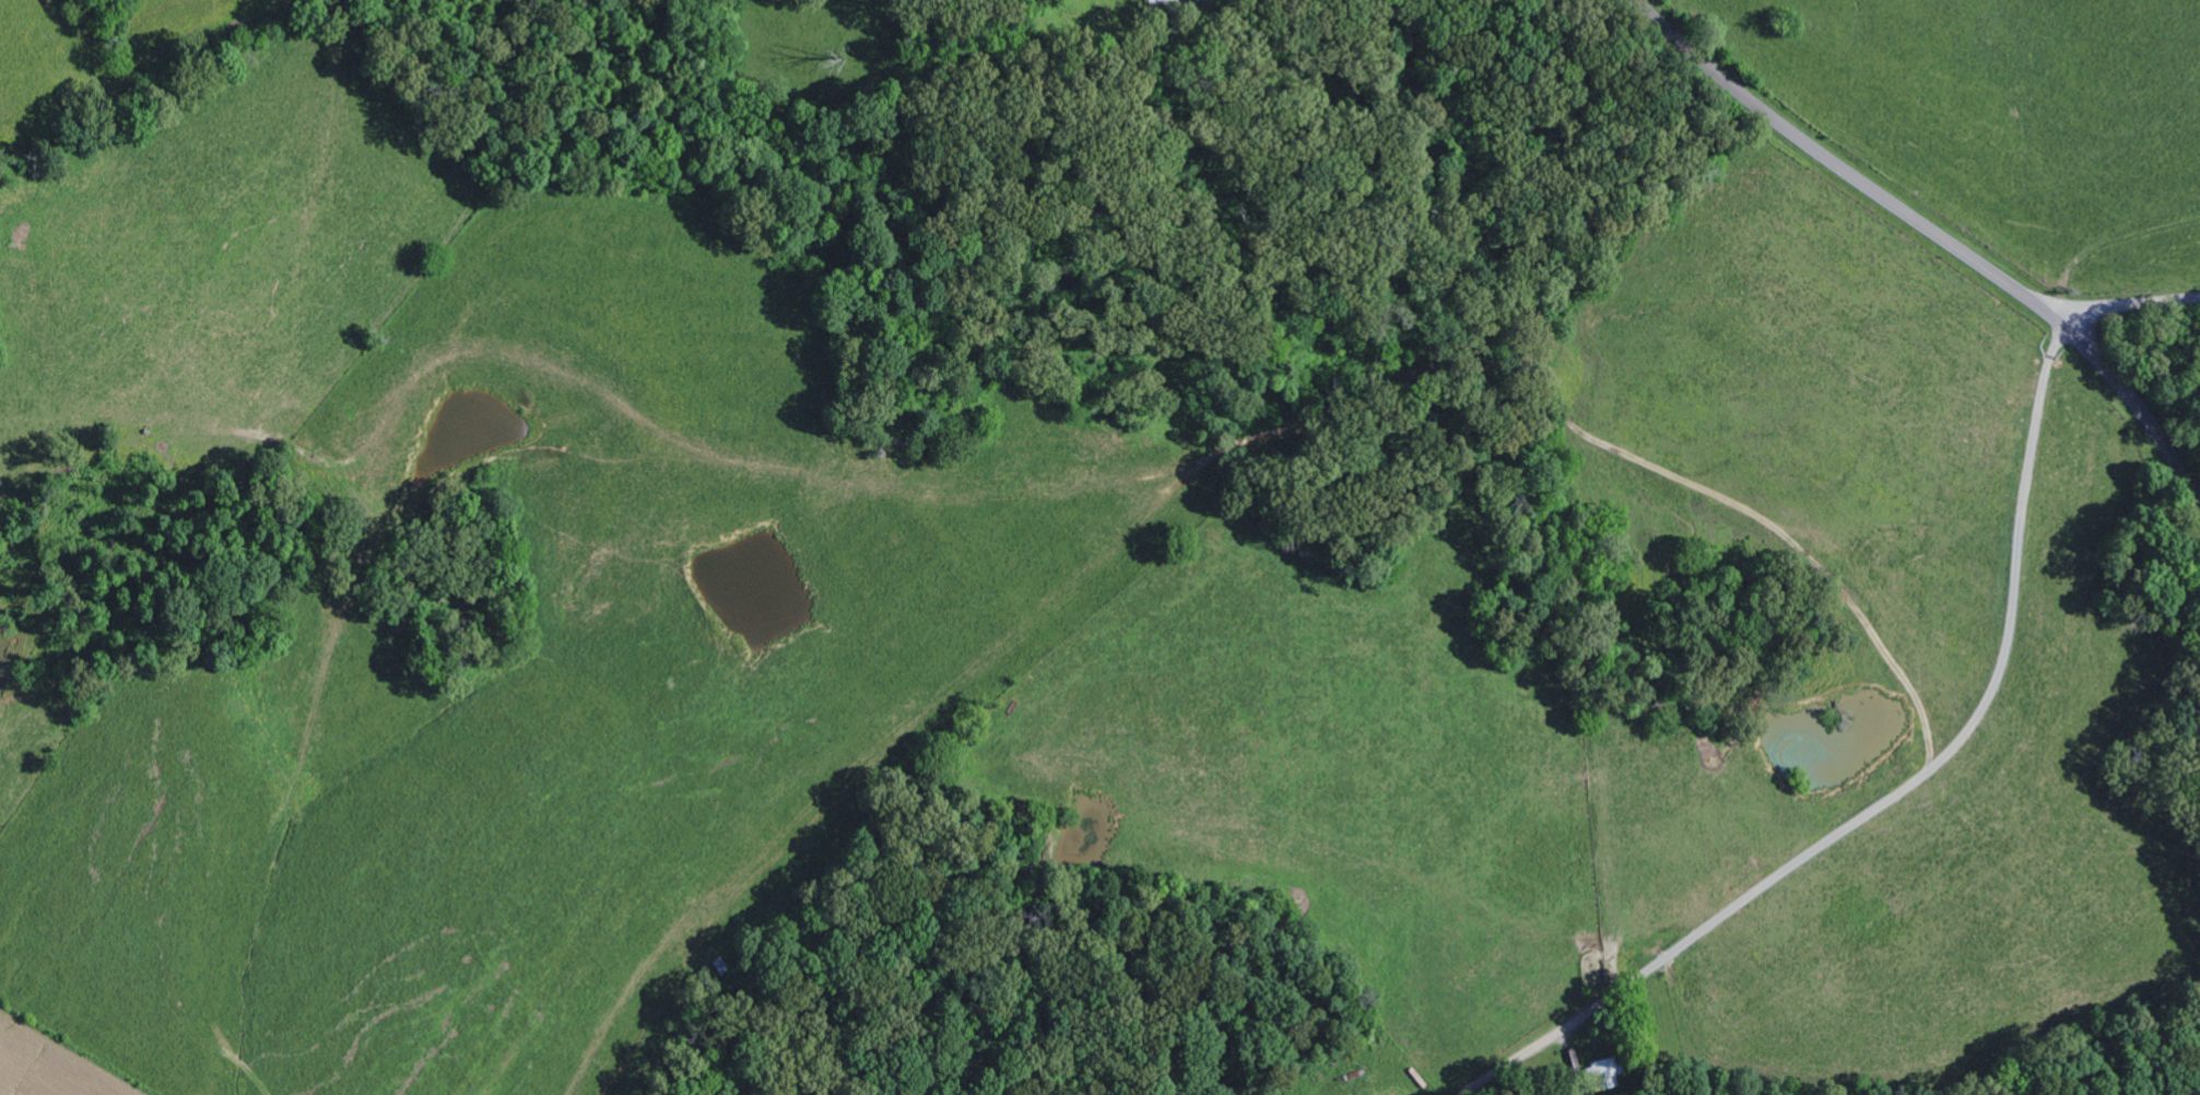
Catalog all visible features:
building: (1162, 1)
road: (1835, 168)
road: (2123, 303)
road: (2057, 328)
road: (2140, 417)
road: (1887, 799)
building: (1604, 1074)

